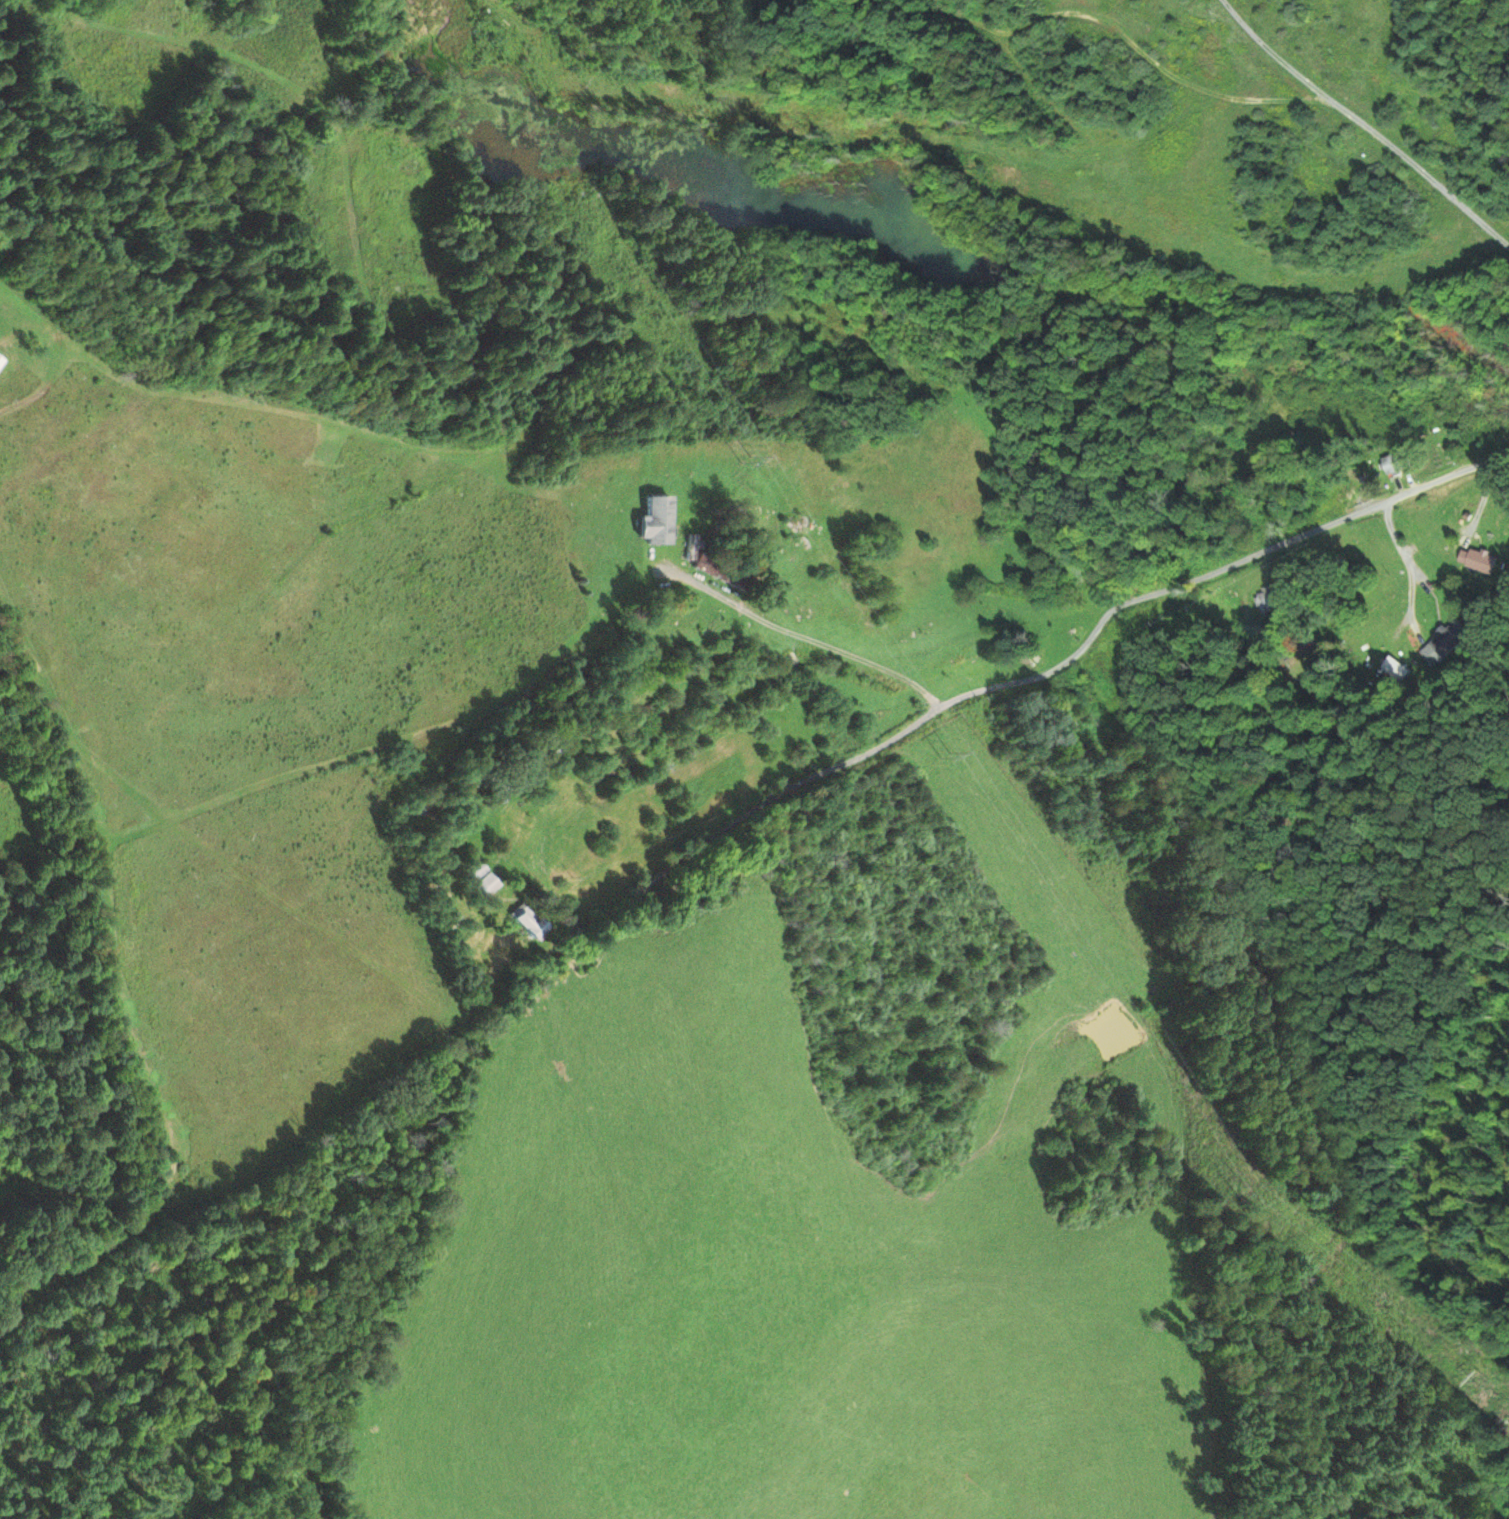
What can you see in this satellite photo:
building: (1, 363)
building: (1396, 463)
building: (656, 521)
road: (1310, 527)
building: (691, 548)
building: (1476, 560)
building: (1268, 601)
building: (1449, 638)
road: (770, 801)
building: (528, 841)
building: (526, 926)

